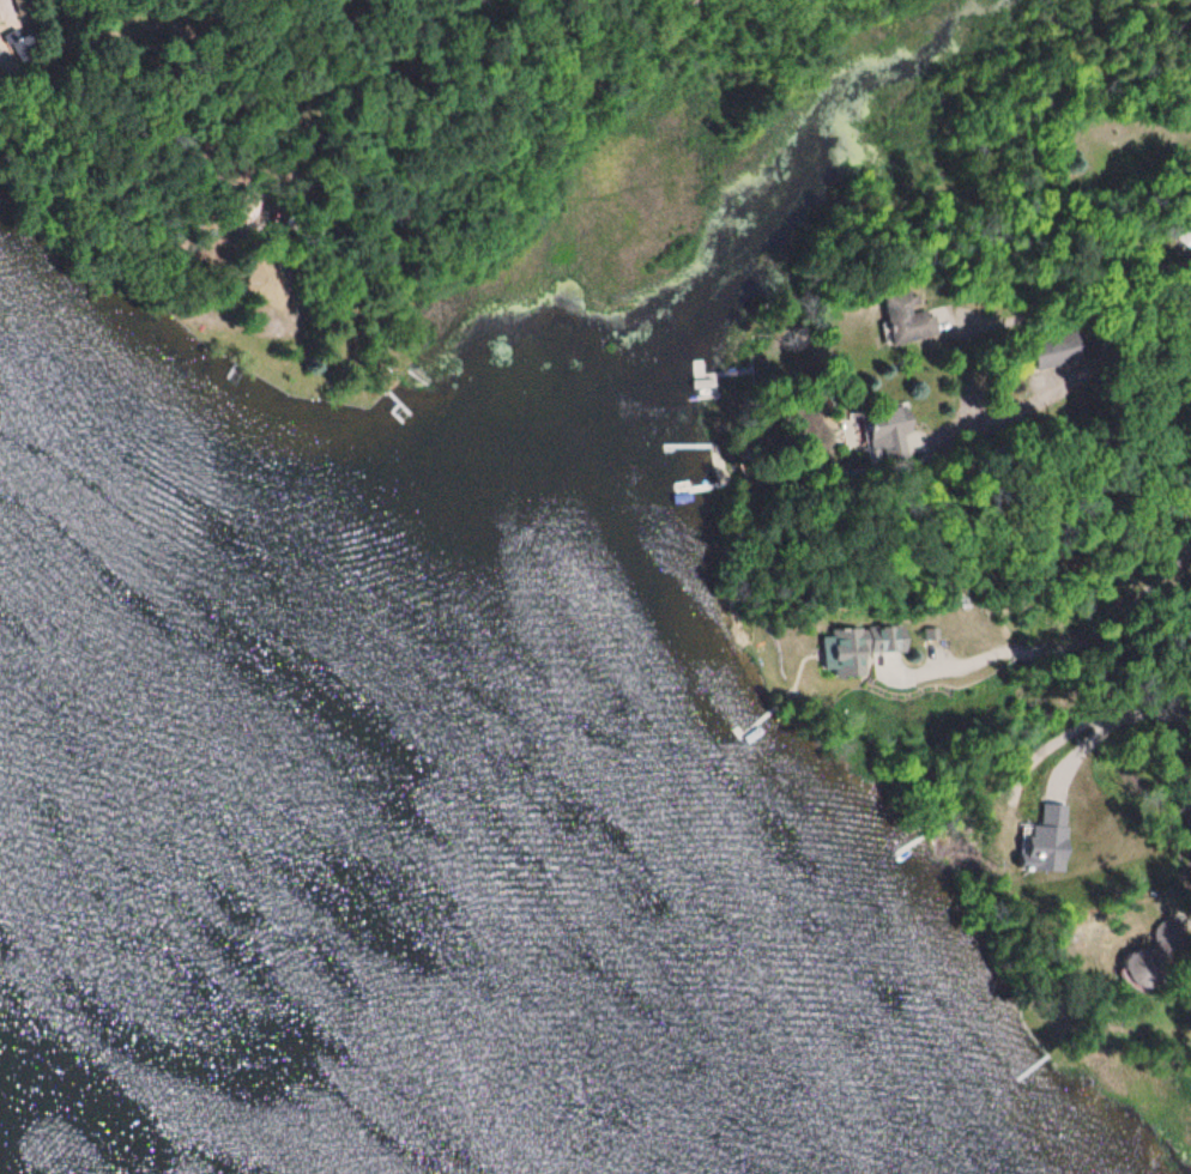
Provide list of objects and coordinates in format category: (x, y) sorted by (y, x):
building: (26, 6)
building: (25, 49)
road: (89, 162)
building: (1183, 236)
building: (267, 284)
building: (906, 319)
building: (1056, 351)
building: (896, 426)
building: (856, 649)
river: (56, 1140)

